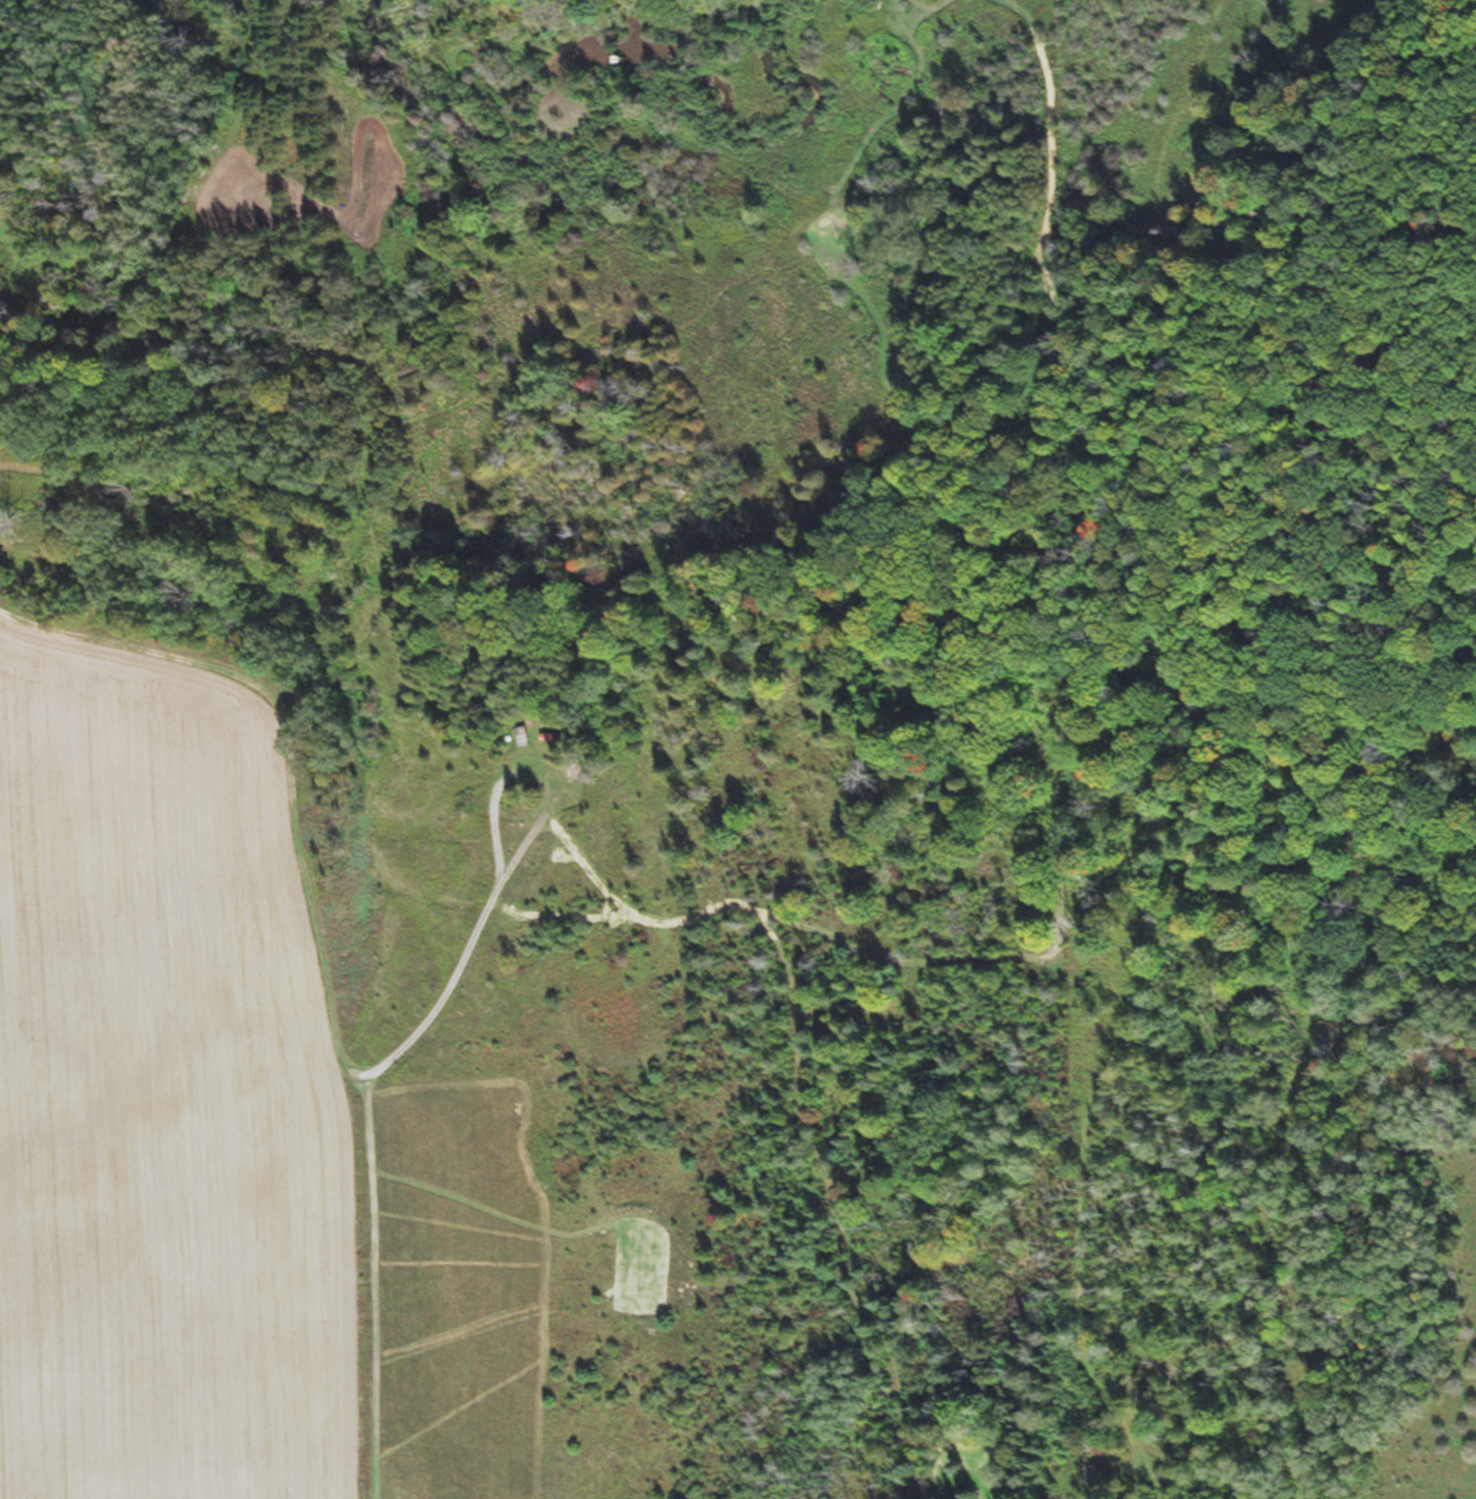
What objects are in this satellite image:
building: (519, 734)
building: (567, 797)

